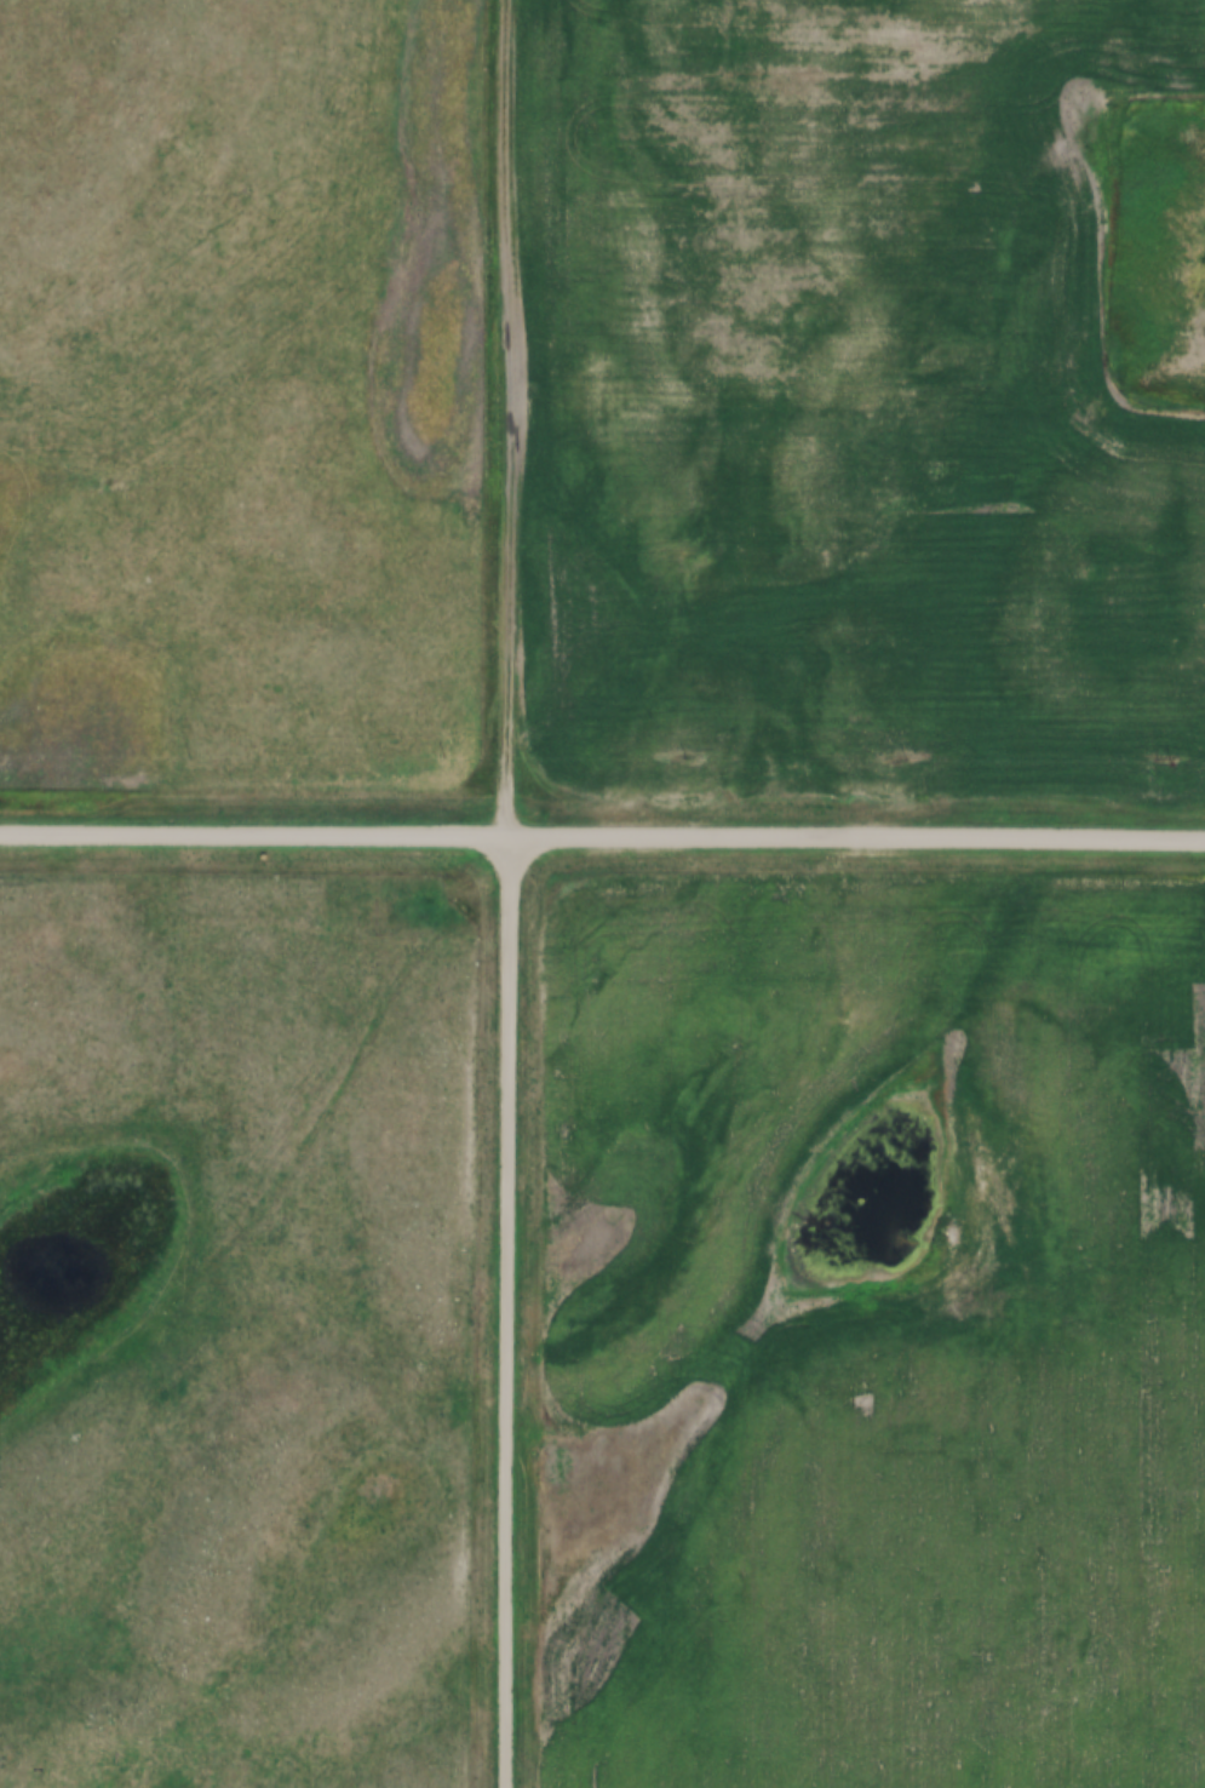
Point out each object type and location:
road: (512, 418)
road: (602, 838)
road: (506, 1312)

